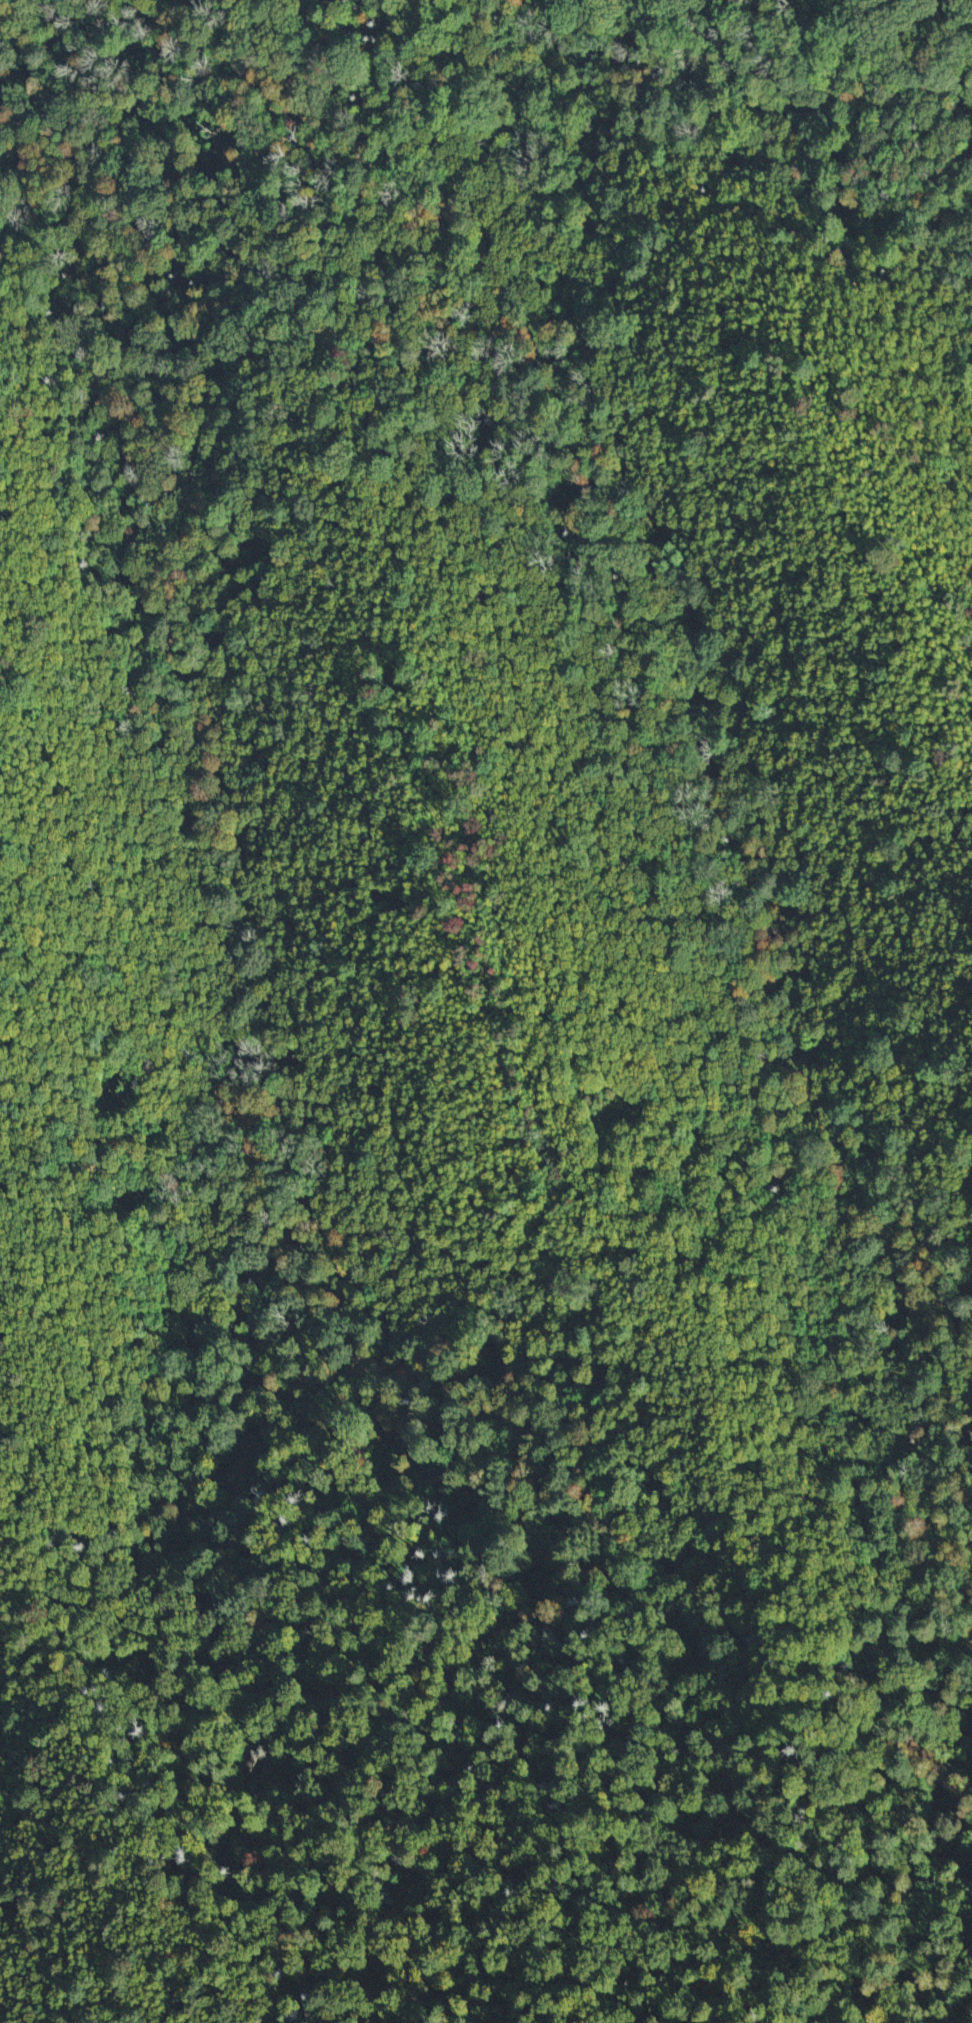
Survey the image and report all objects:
road: (489, 269)

